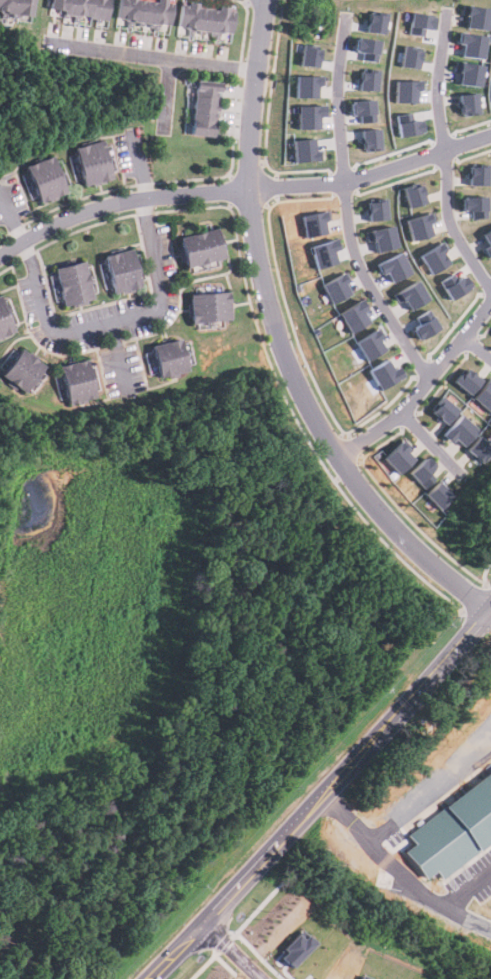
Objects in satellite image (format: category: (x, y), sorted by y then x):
building: (15, 6)
building: (79, 7)
building: (143, 11)
building: (204, 16)
building: (475, 16)
building: (374, 22)
building: (419, 22)
building: (471, 44)
building: (366, 47)
road: (152, 55)
building: (308, 55)
building: (409, 57)
building: (468, 73)
building: (367, 79)
building: (306, 85)
building: (406, 90)
road: (165, 94)
building: (468, 103)
building: (202, 109)
building: (362, 110)
building: (308, 115)
building: (408, 123)
building: (370, 139)
building: (304, 150)
road: (446, 154)
building: (90, 162)
road: (137, 163)
building: (478, 174)
building: (43, 179)
road: (242, 188)
building: (414, 195)
road: (347, 204)
building: (474, 205)
building: (377, 209)
road: (11, 218)
building: (314, 223)
building: (419, 226)
building: (382, 237)
building: (487, 242)
building: (199, 247)
building: (324, 252)
building: (434, 257)
road: (262, 266)
building: (394, 266)
building: (119, 271)
building: (71, 282)
building: (454, 284)
building: (336, 287)
building: (411, 294)
building: (208, 306)
building: (354, 315)
building: (4, 323)
building: (423, 324)
road: (116, 326)
building: (369, 344)
road: (478, 346)
building: (188, 353)
building: (167, 357)
building: (8, 358)
building: (20, 370)
building: (384, 374)
building: (94, 377)
building: (467, 380)
building: (74, 381)
road: (421, 385)
building: (484, 394)
building: (444, 410)
building: (461, 430)
road: (432, 441)
building: (479, 449)
building: (398, 456)
building: (423, 471)
building: (439, 495)
road: (174, 514)
road: (432, 560)
road: (489, 613)
road: (22, 685)
road: (223, 703)
road: (326, 796)
building: (453, 831)
road: (400, 871)
building: (299, 946)
road: (237, 951)
building: (365, 977)

